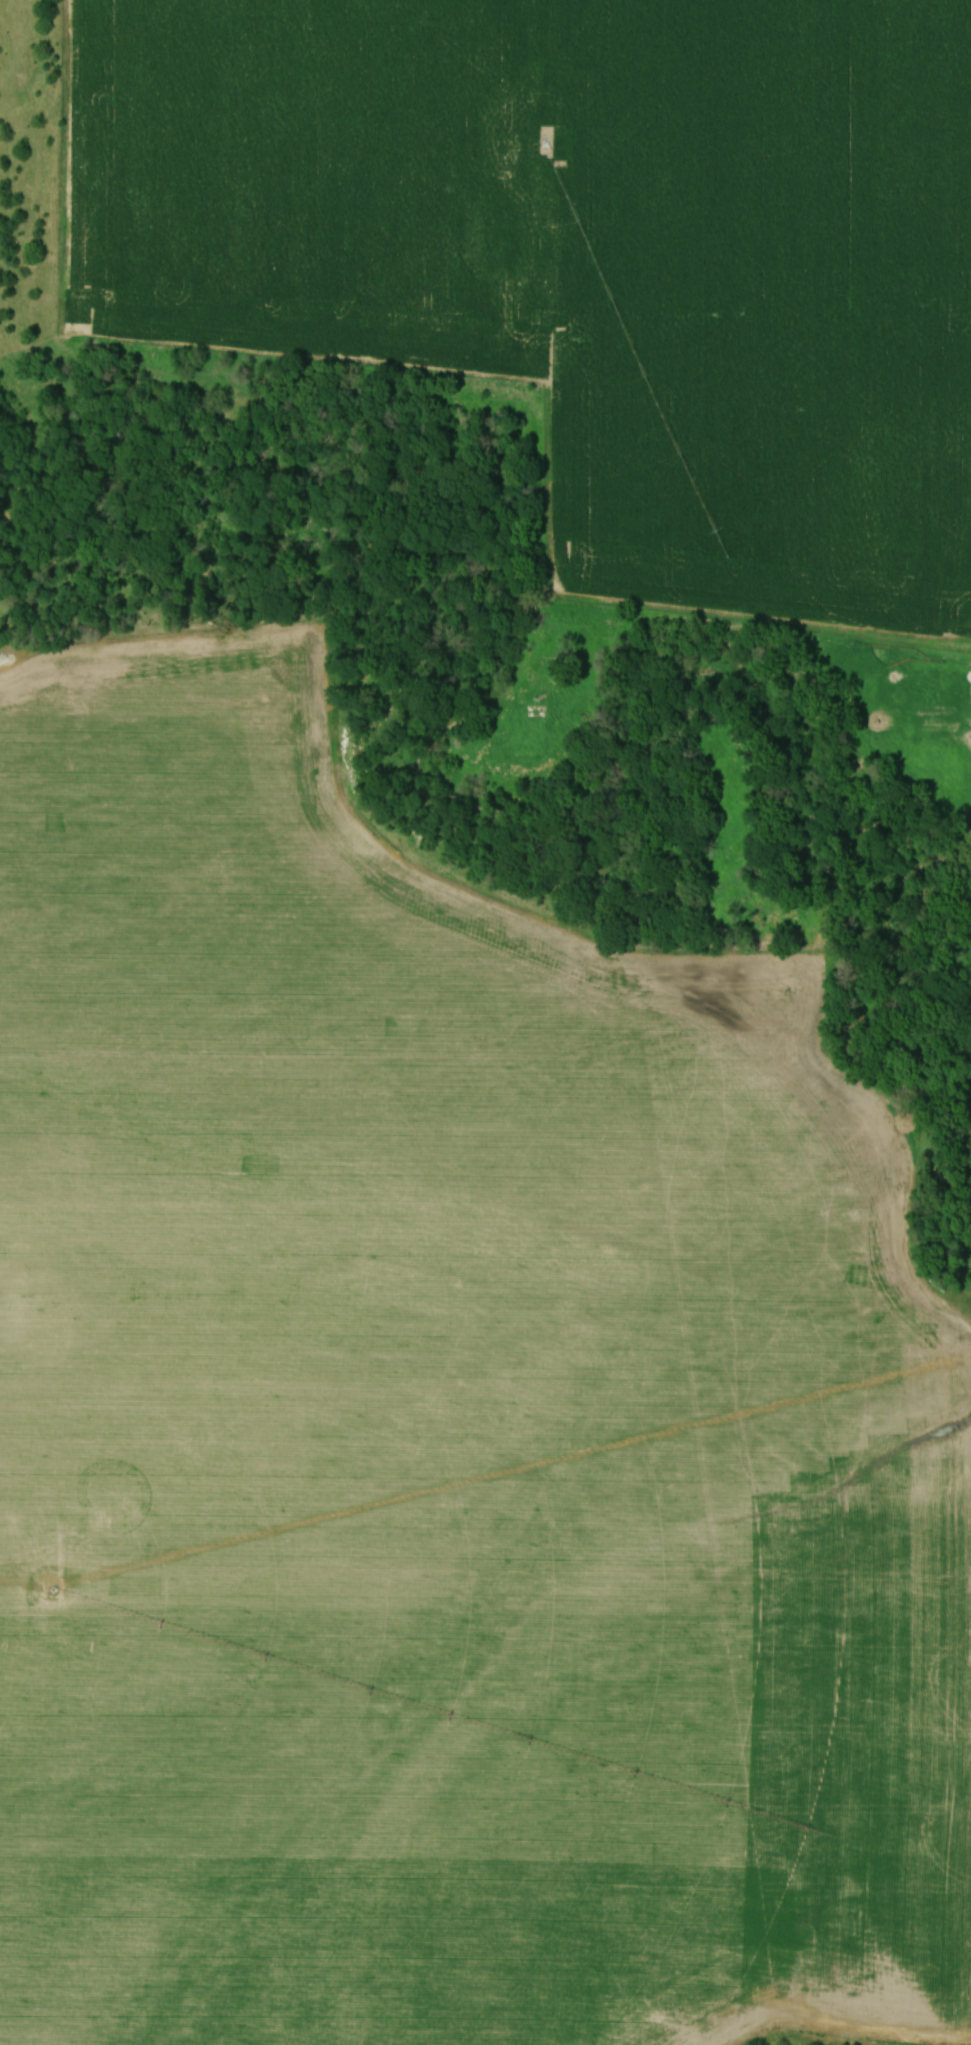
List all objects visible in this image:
building: (894, 692)

